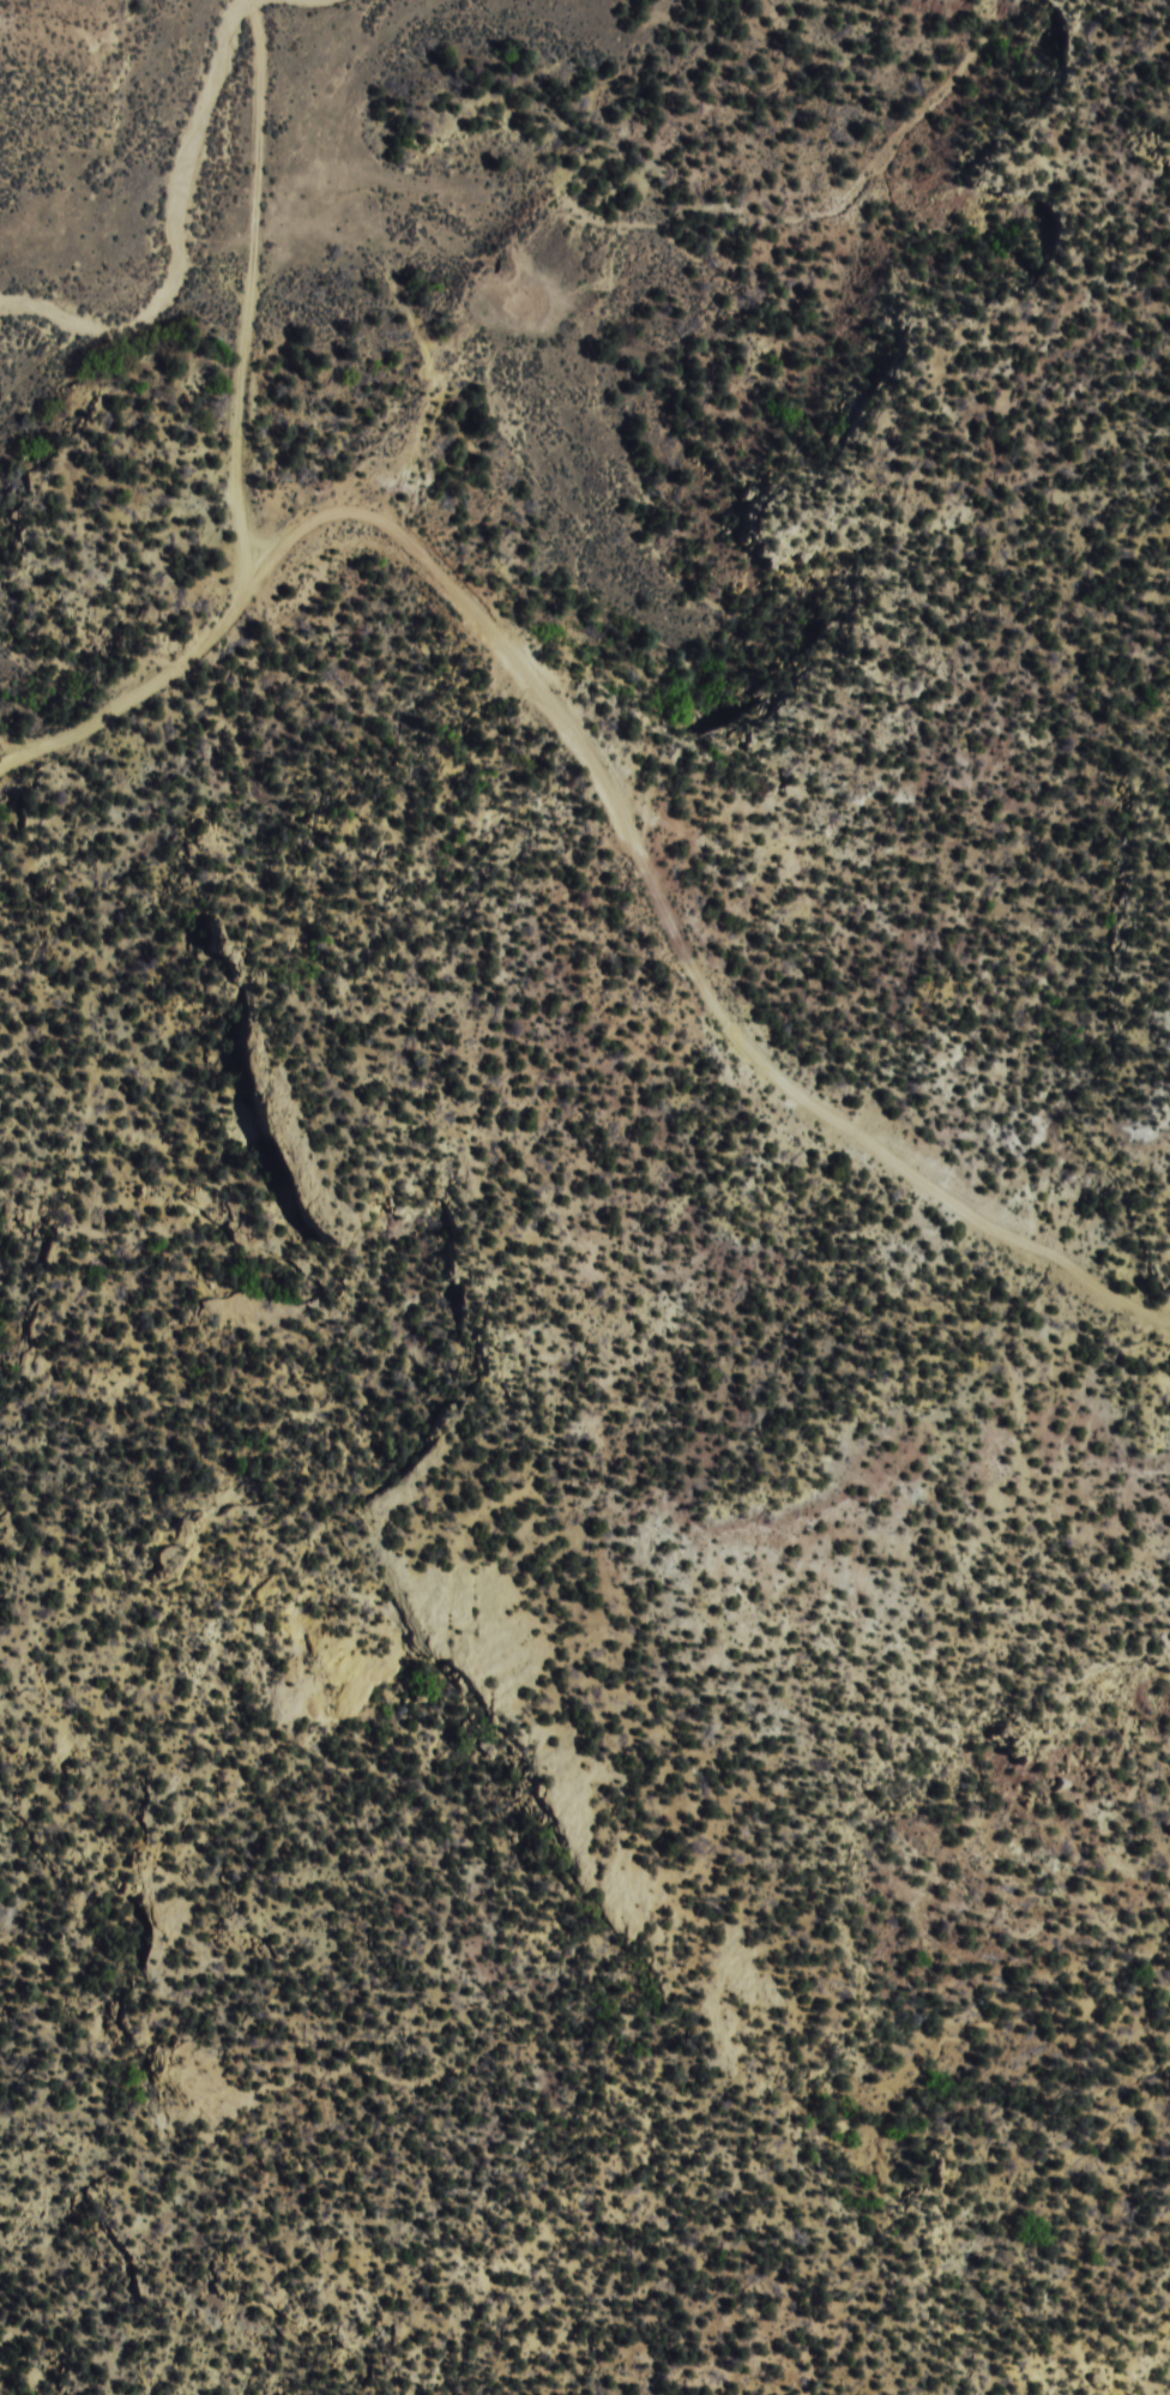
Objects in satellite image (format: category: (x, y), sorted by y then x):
road: (609, 783)

